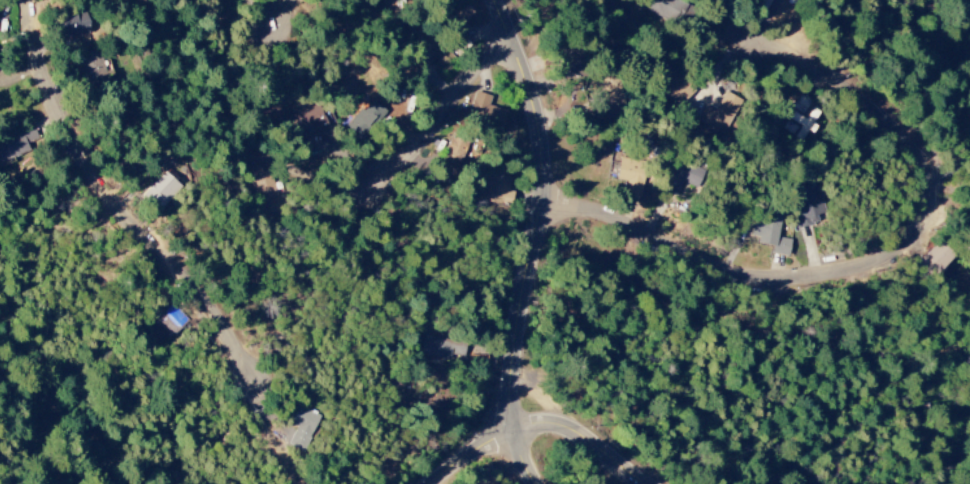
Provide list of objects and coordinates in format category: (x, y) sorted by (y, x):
building: (460, 15)
road: (296, 21)
building: (72, 26)
building: (572, 64)
building: (91, 68)
building: (486, 112)
road: (454, 114)
building: (719, 114)
building: (794, 114)
building: (366, 122)
building: (304, 124)
building: (455, 144)
building: (12, 146)
building: (630, 175)
building: (681, 178)
building: (261, 183)
building: (494, 188)
building: (161, 190)
building: (808, 206)
building: (770, 233)
road: (537, 242)
road: (159, 246)
building: (936, 258)
road: (872, 264)
building: (440, 348)
park: (934, 406)
road: (545, 423)
building: (302, 426)

